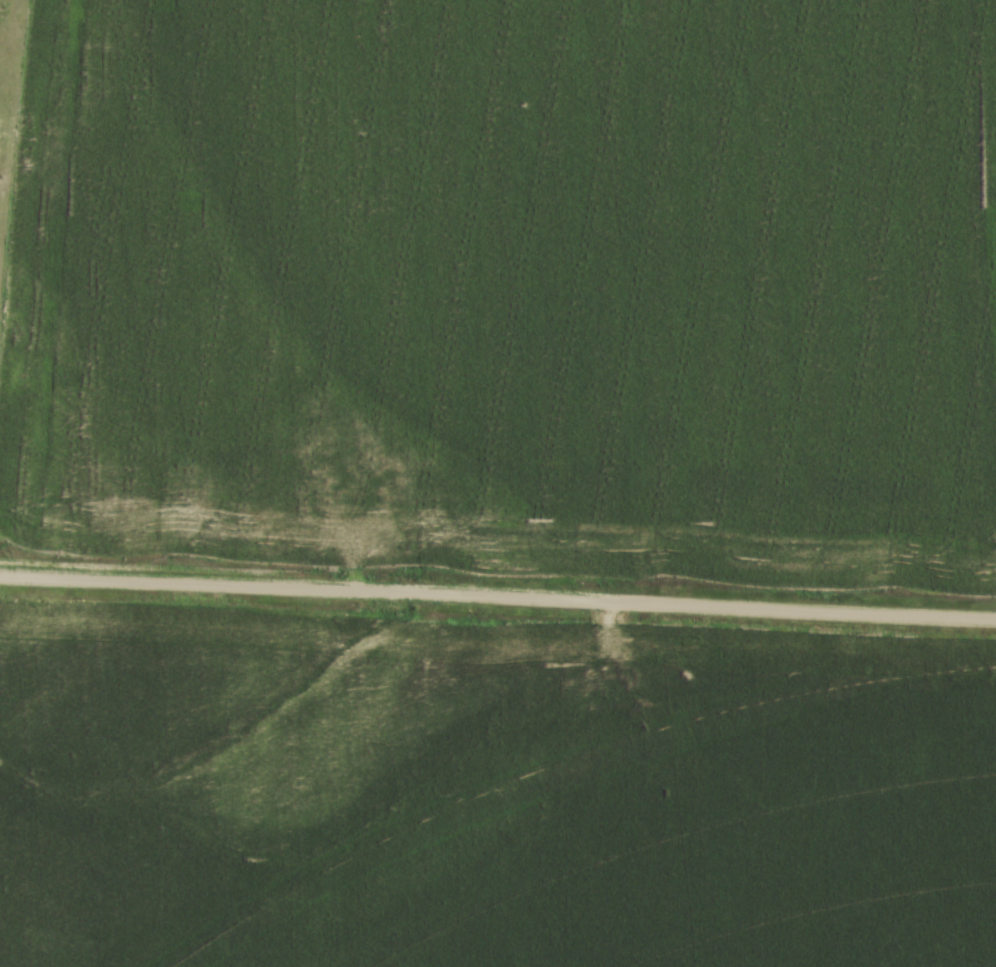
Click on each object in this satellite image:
road: (497, 596)

